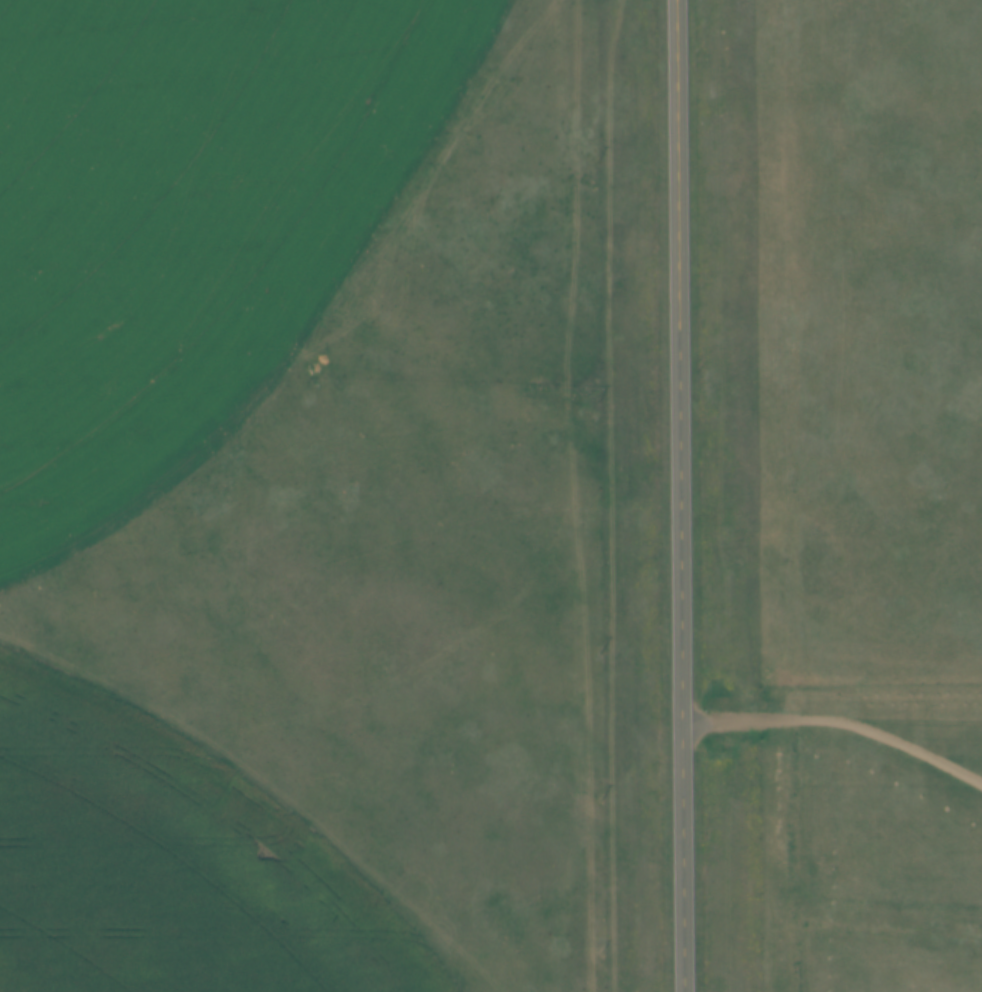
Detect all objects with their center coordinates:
road: (677, 495)

